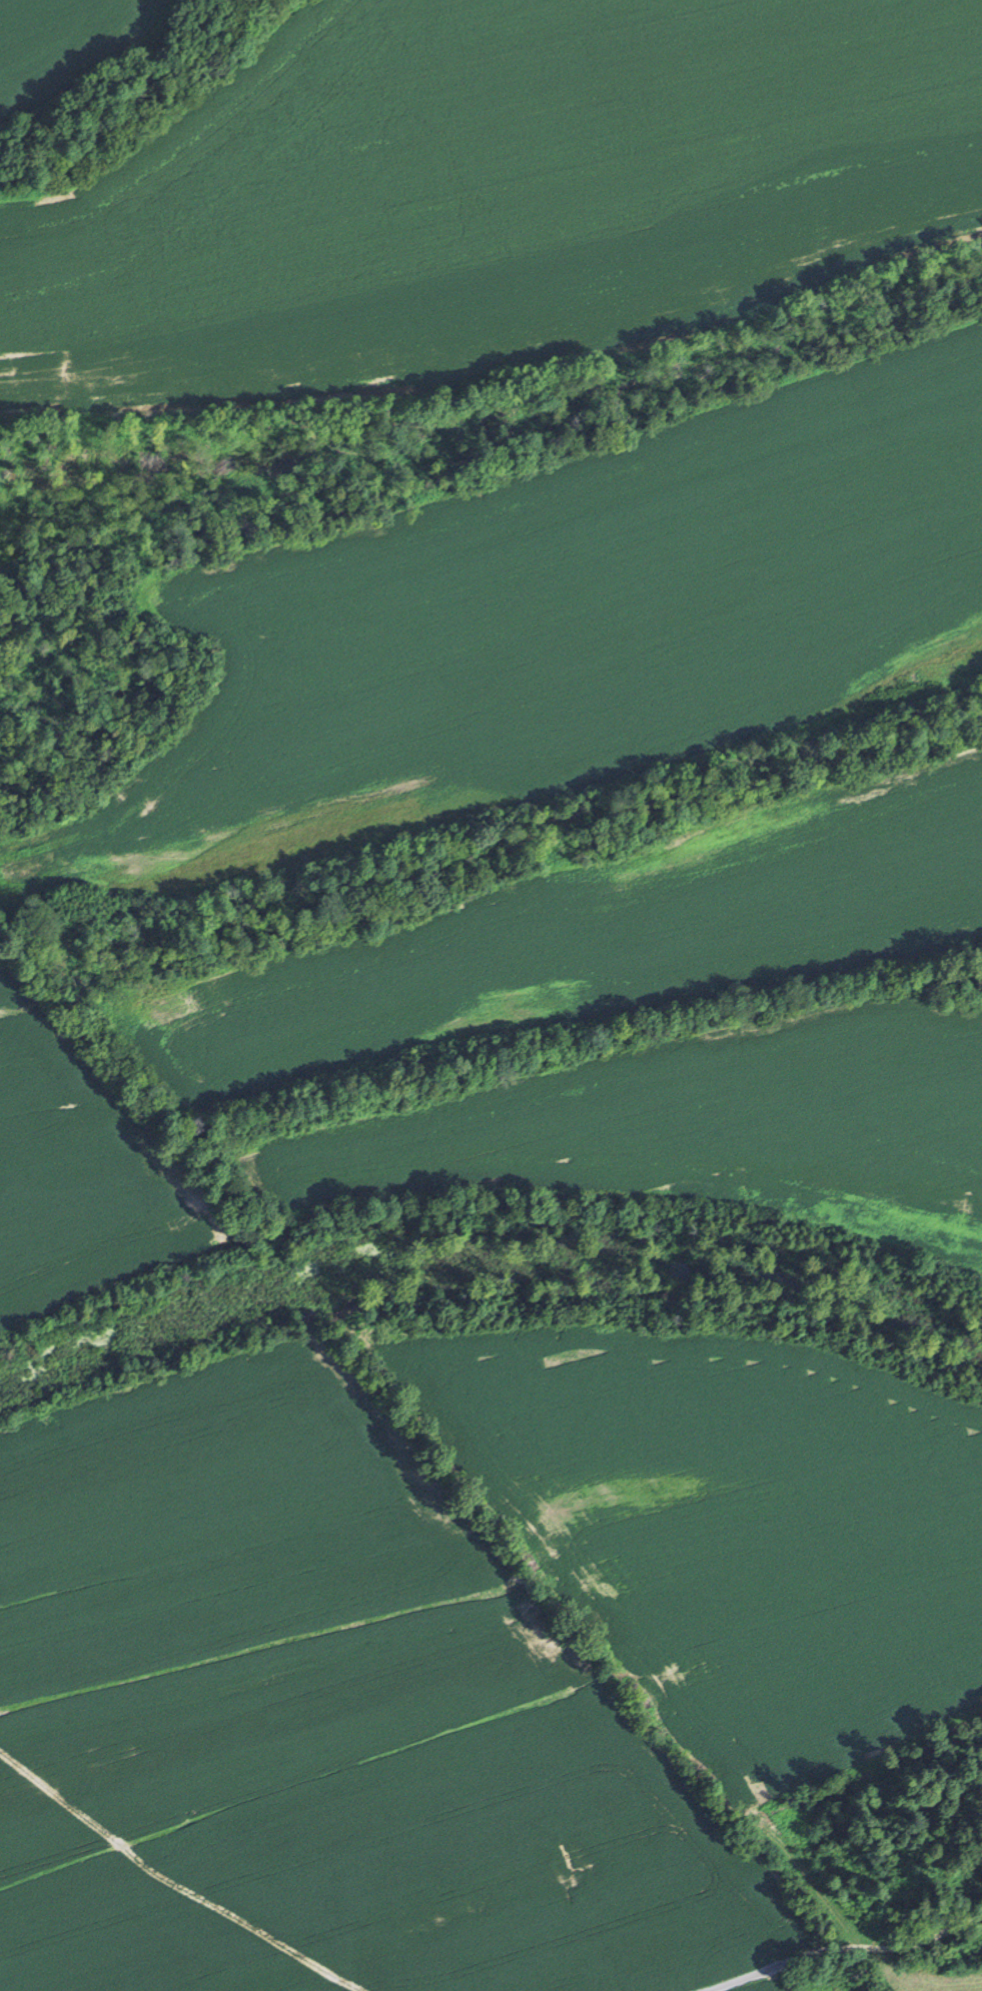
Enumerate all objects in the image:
road: (867, 1948)
road: (734, 1984)

